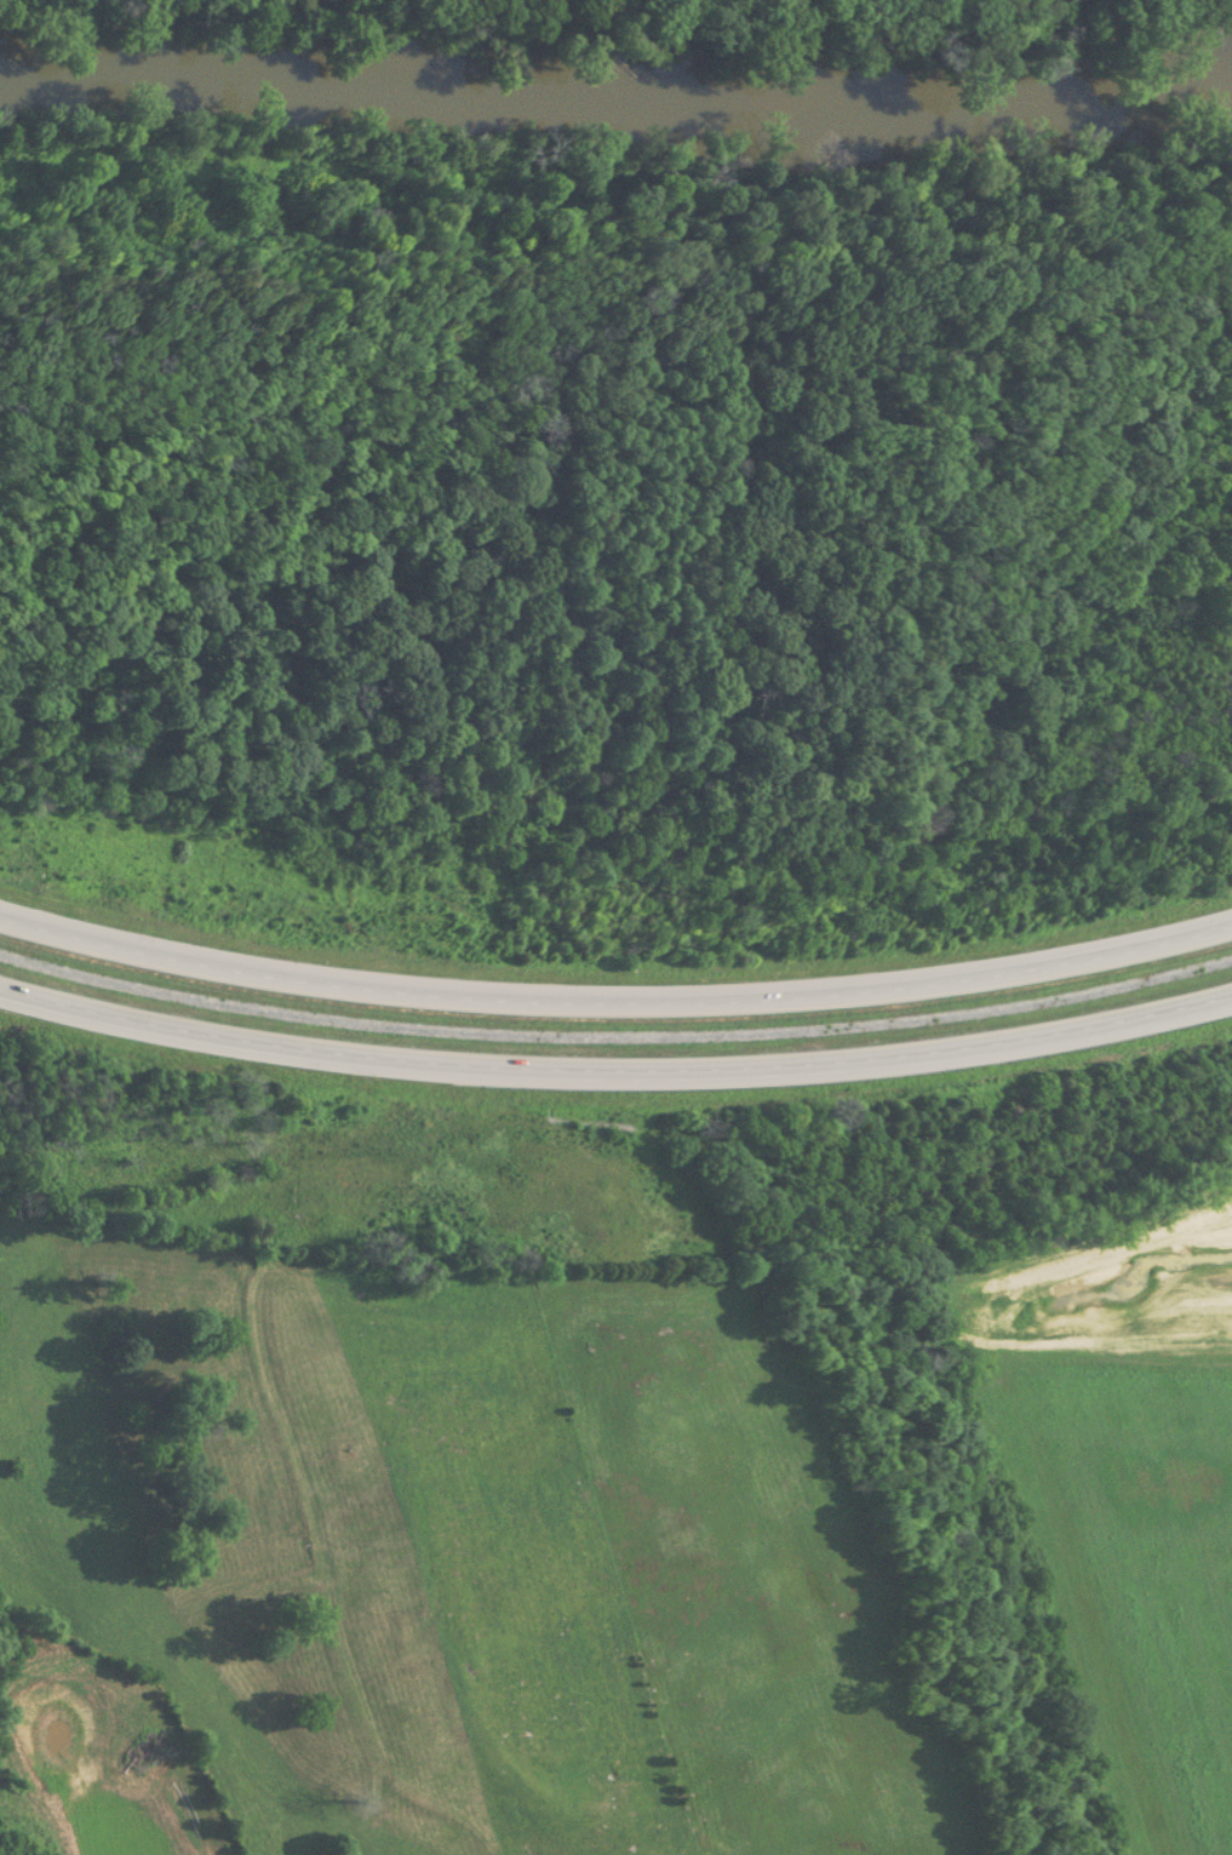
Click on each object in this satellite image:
river: (604, 195)
road: (615, 998)
road: (615, 1066)

